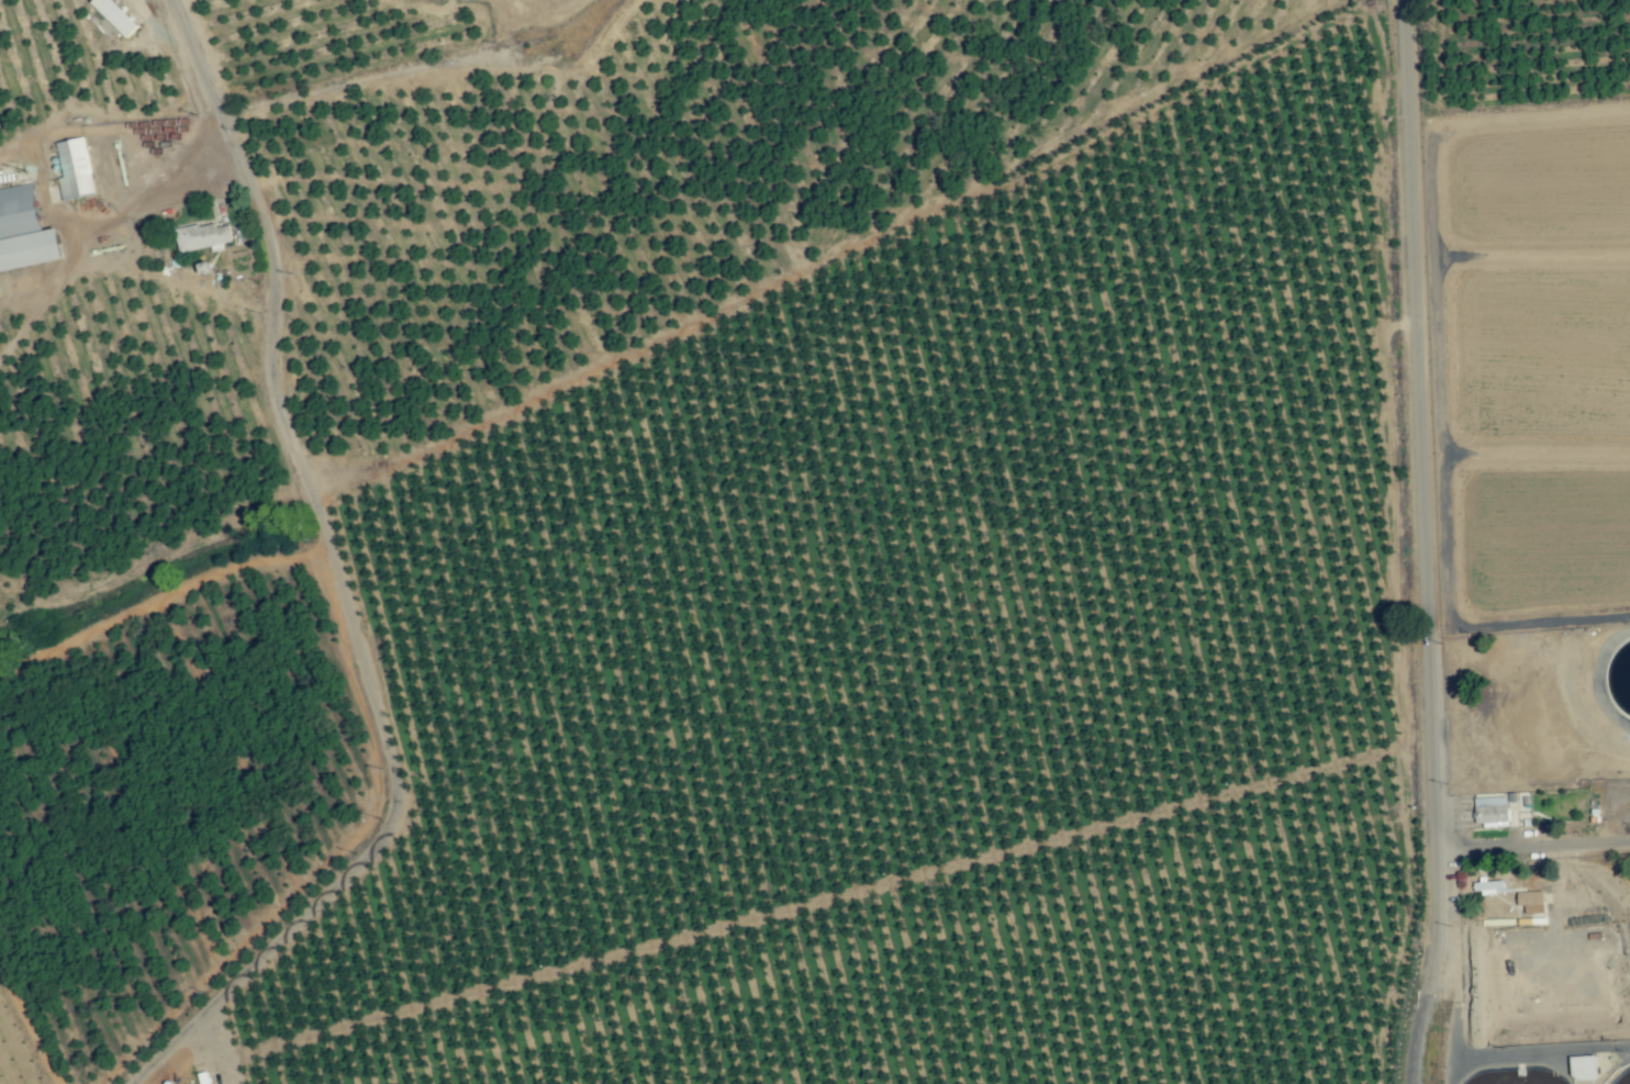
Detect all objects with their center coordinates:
road: (179, 7)
building: (115, 15)
building: (75, 169)
building: (24, 231)
building: (202, 237)
crop: (723, 539)
road: (1436, 541)
road: (338, 584)
building: (1491, 811)
road: (1538, 847)
building: (1486, 886)
building: (1530, 902)
road: (1424, 996)
road: (1540, 1054)
building: (1583, 1068)

